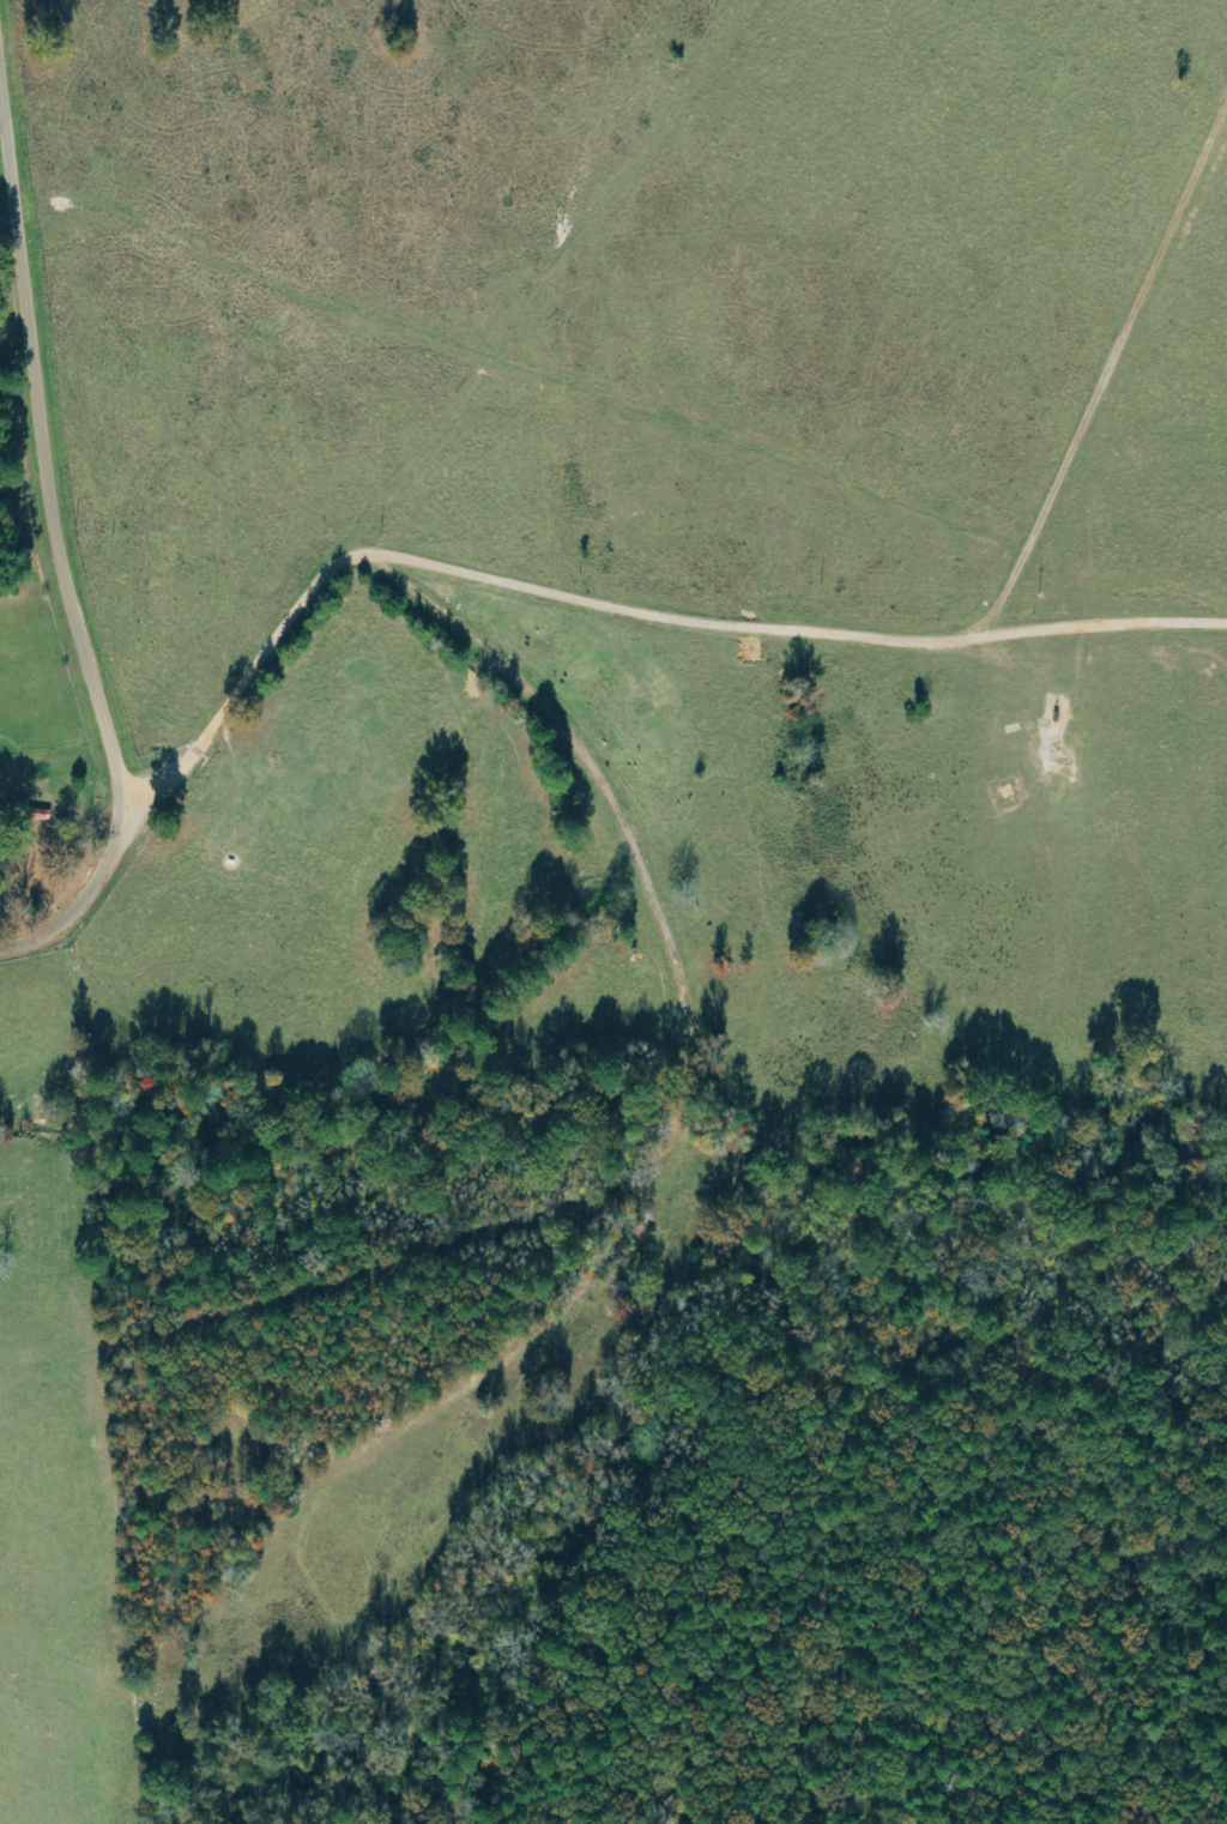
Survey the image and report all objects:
road: (473, 521)
road: (53, 560)
road: (673, 968)

